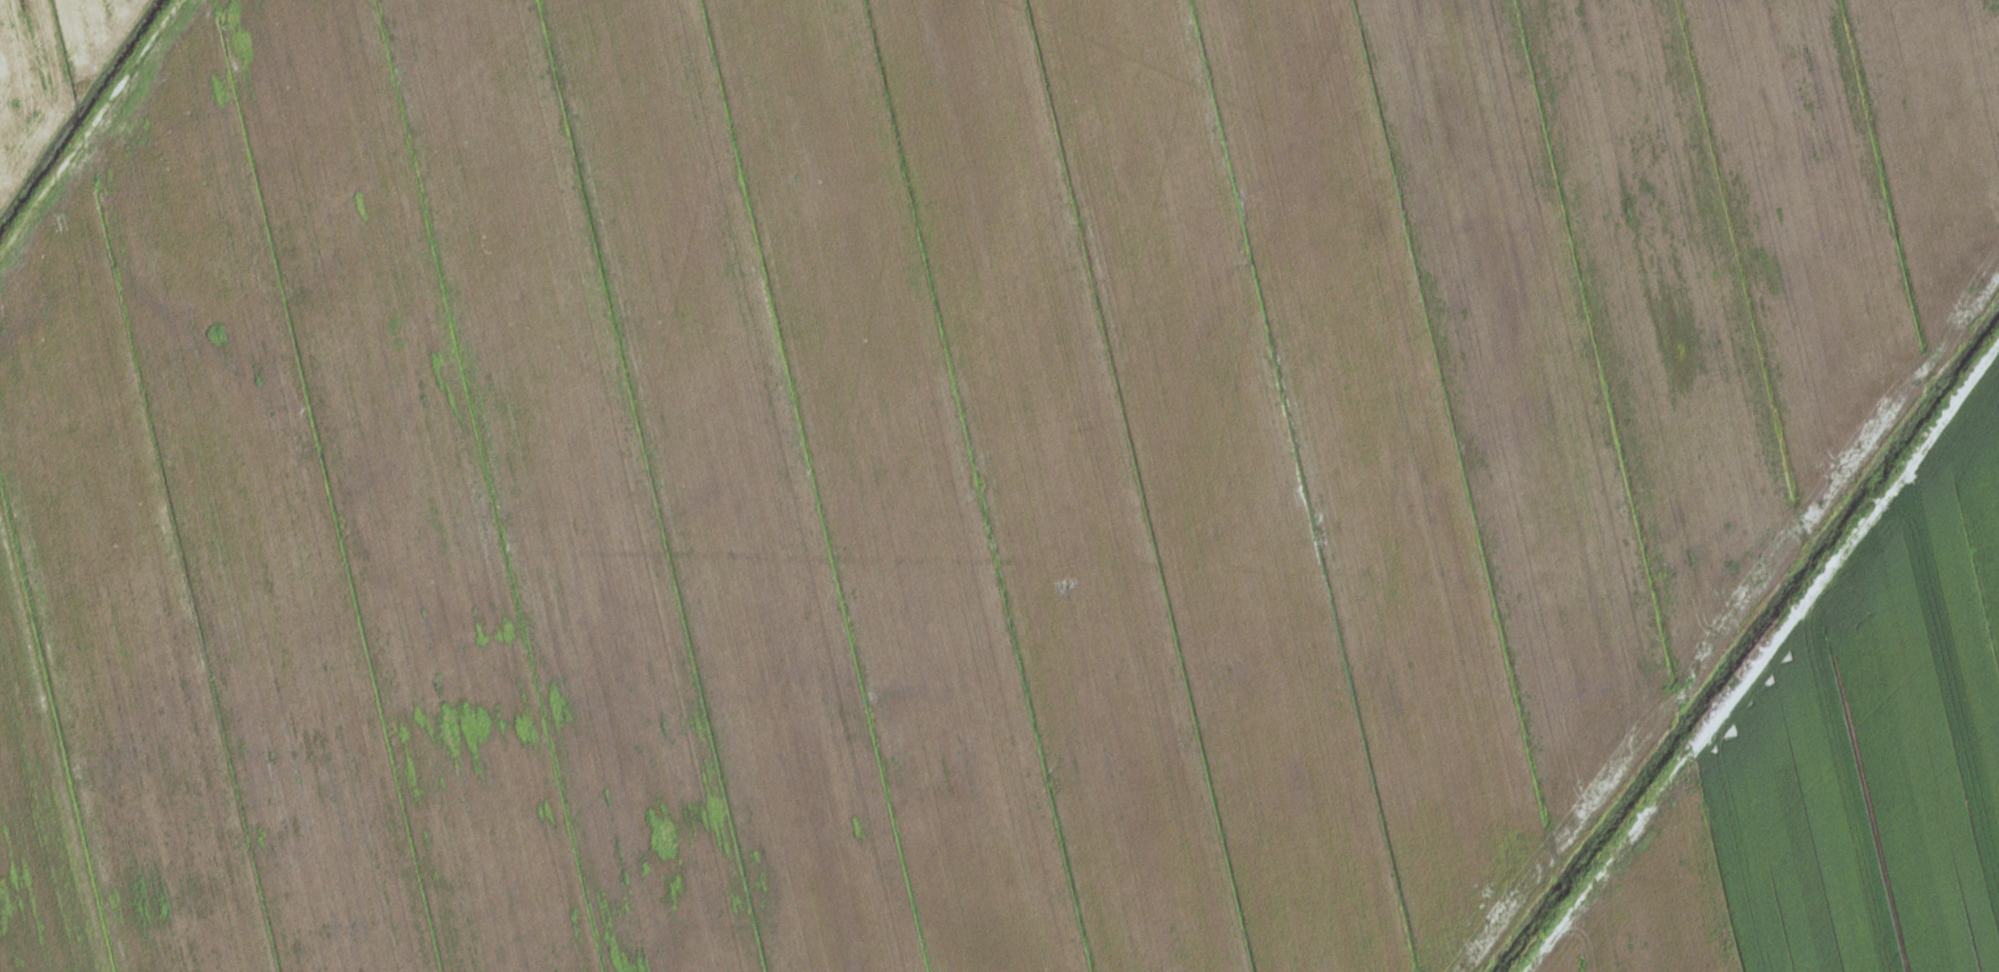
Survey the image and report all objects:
crop: (929, 465)
road: (1757, 654)
crop: (1839, 763)

